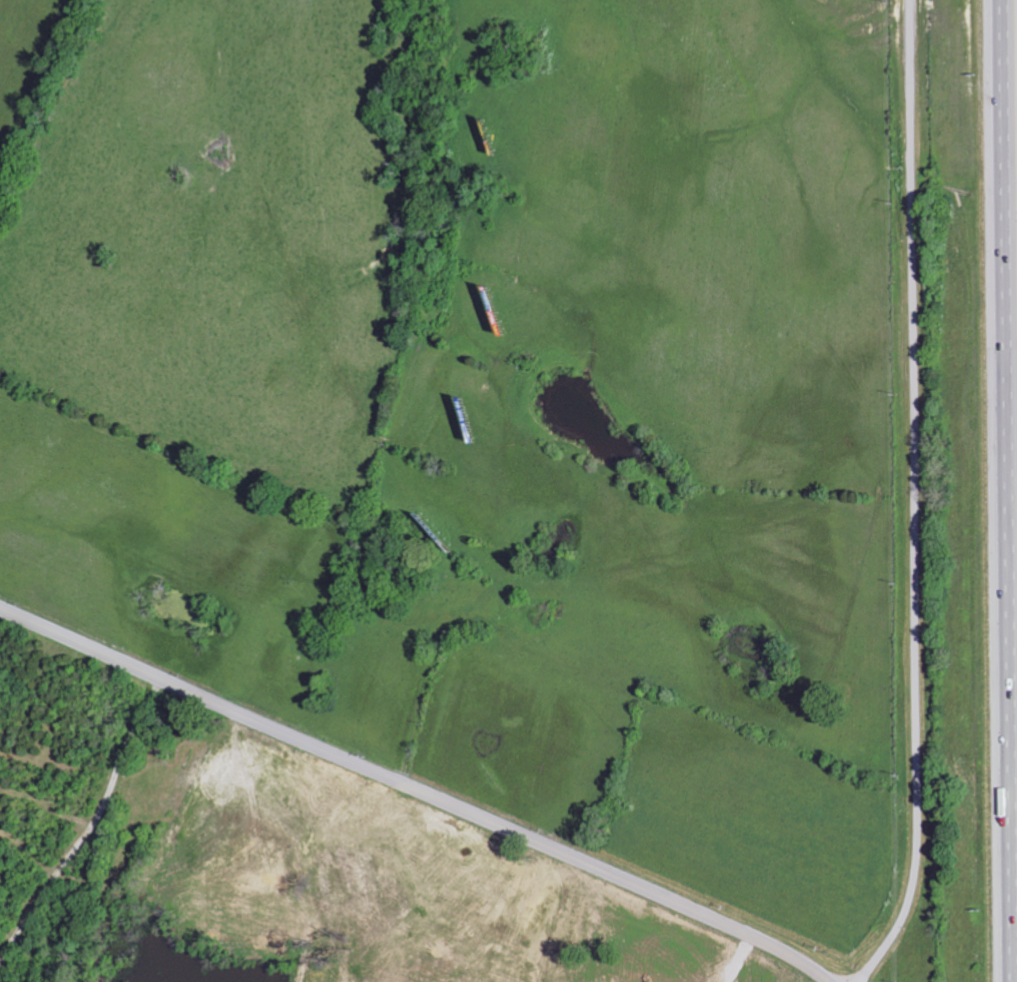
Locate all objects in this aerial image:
road: (3, 12)
road: (997, 491)
road: (915, 498)
road: (417, 789)

